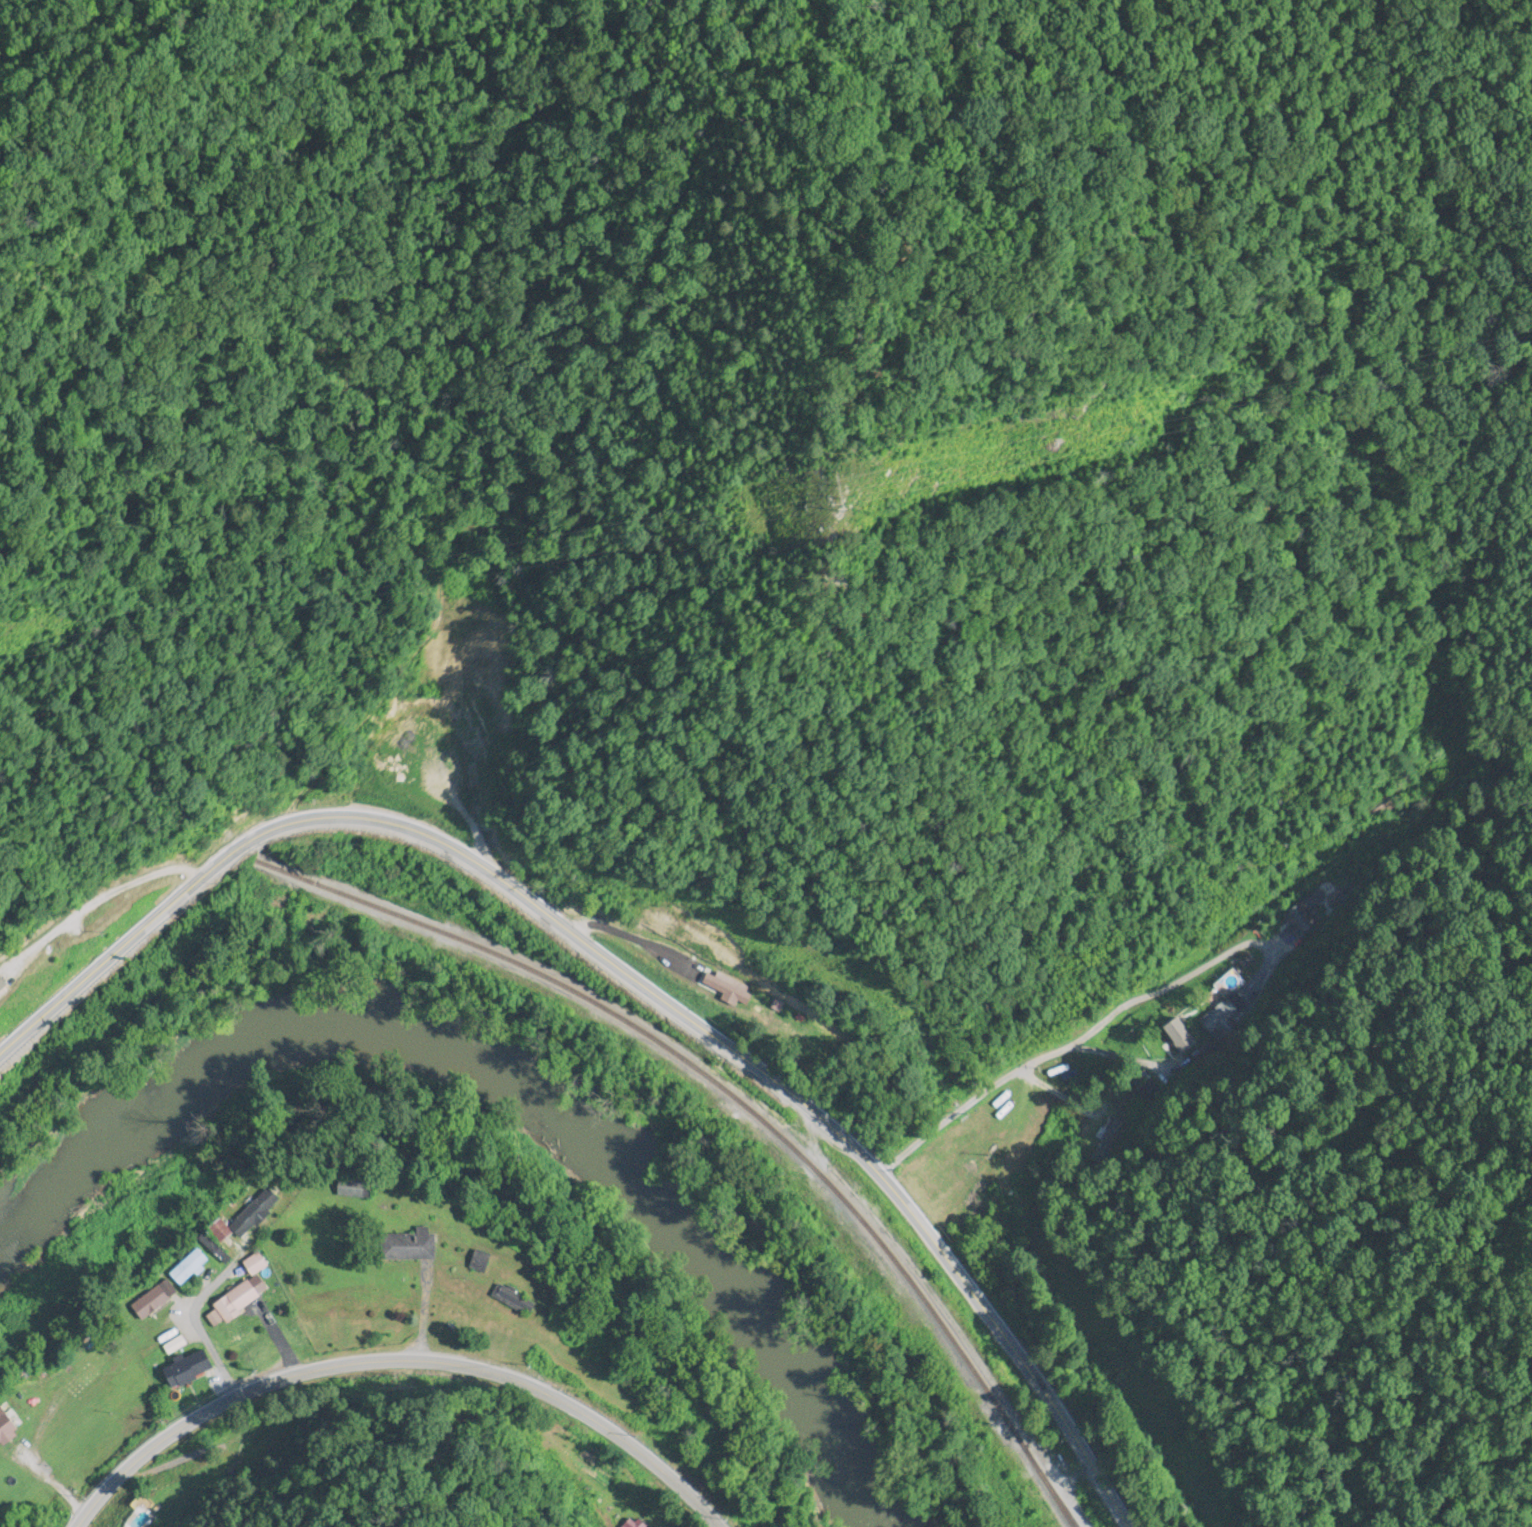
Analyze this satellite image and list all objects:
power tower: (865, 496)
building: (379, 781)
building: (1388, 804)
building: (1279, 867)
building: (1299, 922)
road: (626, 974)
road: (1136, 995)
road: (1237, 1004)
building: (1223, 1018)
building: (1183, 1037)
river: (494, 1080)
building: (1147, 1090)
railway: (739, 1112)
building: (355, 1190)
building: (257, 1213)
building: (223, 1233)
building: (413, 1247)
building: (216, 1252)
building: (481, 1263)
building: (256, 1265)
building: (191, 1268)
building: (154, 1302)
building: (238, 1302)
building: (516, 1302)
building: (175, 1347)
road: (391, 1362)
building: (190, 1370)
building: (84, 1376)
building: (9, 1425)

